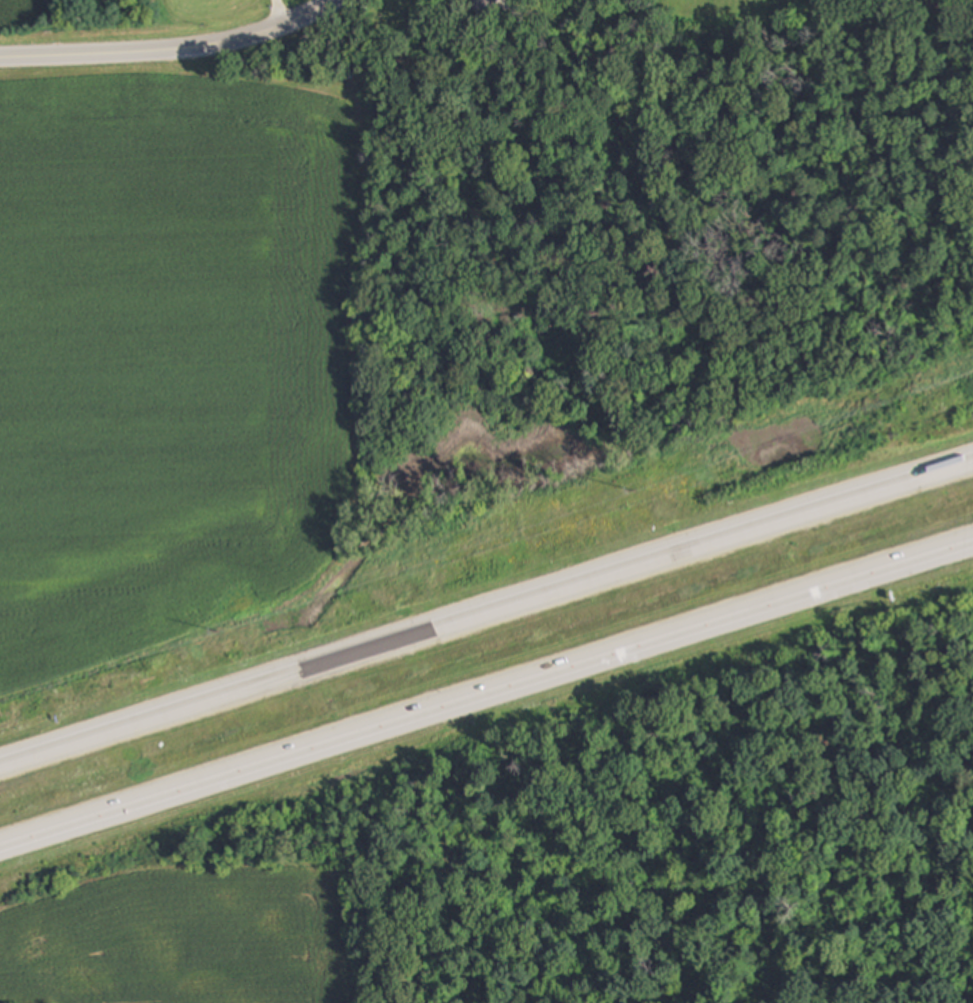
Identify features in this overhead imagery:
road: (276, 11)
road: (169, 49)
road: (486, 619)
road: (486, 701)

